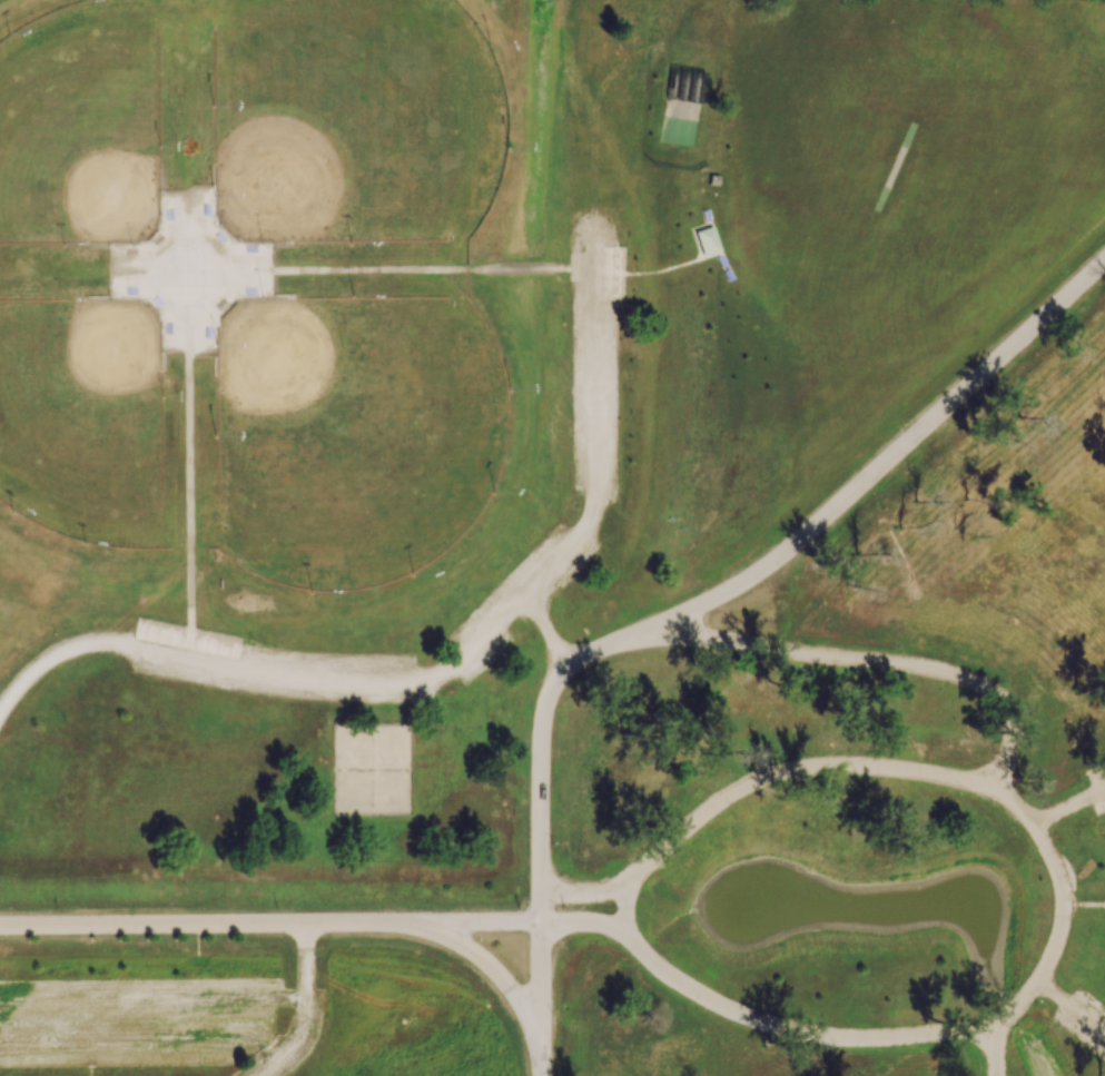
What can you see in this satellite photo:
park: (354, 120)
park: (80, 126)
building: (708, 239)
road: (683, 263)
road: (412, 270)
building: (185, 272)
road: (596, 412)
park: (82, 421)
park: (354, 436)
road: (889, 457)
parking lot: (594, 468)
road: (188, 486)
park: (552, 537)
road: (544, 626)
road: (609, 646)
road: (57, 651)
road: (879, 661)
road: (348, 679)
park: (371, 770)
road: (789, 770)
parking lot: (1096, 784)
road: (1095, 793)
road: (1058, 811)
road: (539, 851)
road: (581, 895)
road: (1103, 904)
road: (1081, 906)
road: (1103, 907)
road: (1060, 908)
road: (623, 910)
road: (583, 921)
road: (269, 925)
road: (304, 961)
road: (496, 974)
road: (1049, 990)
road: (151, 999)
road: (1084, 1018)
parking lot: (1083, 1020)
parking lot: (132, 1021)
road: (791, 1030)
parking lot: (304, 1035)
road: (290, 1044)
road: (142, 1045)
road: (993, 1050)
road: (540, 1058)
road: (90, 1060)

